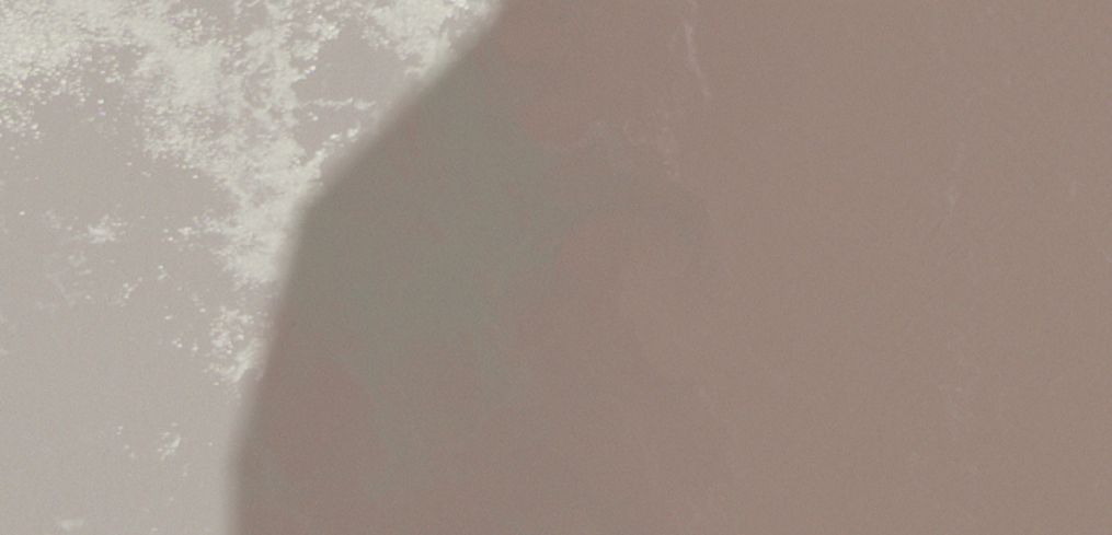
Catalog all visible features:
river: (638, 267)

